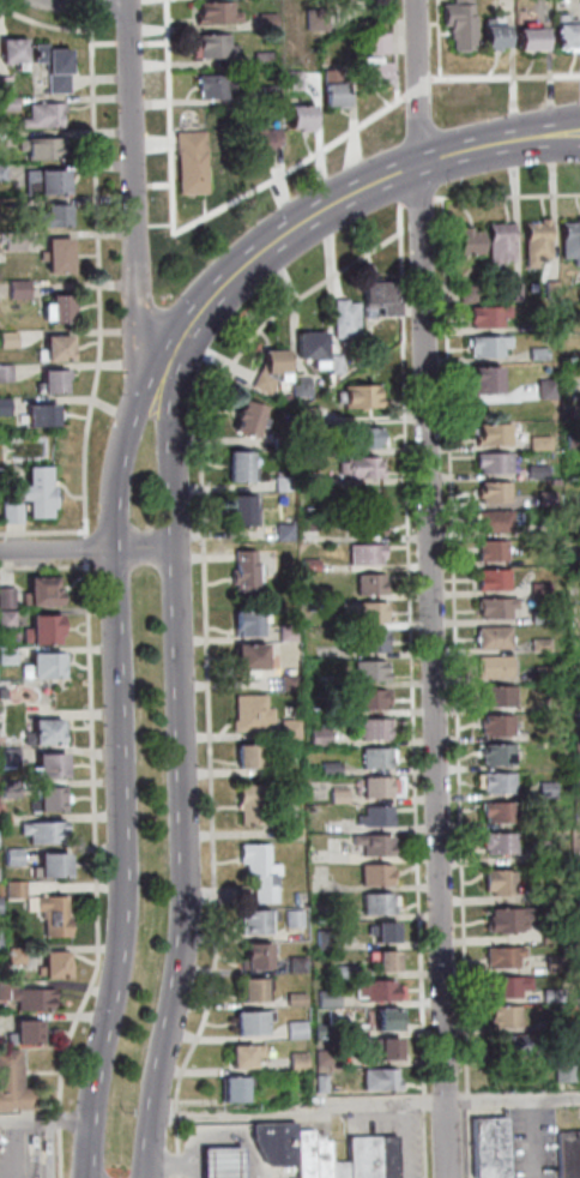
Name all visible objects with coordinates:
road: (91, 1)
building: (342, 2)
road: (87, 6)
building: (213, 13)
building: (265, 19)
building: (315, 19)
road: (42, 24)
building: (457, 24)
building: (490, 35)
building: (563, 37)
building: (527, 40)
road: (152, 42)
road: (101, 43)
road: (126, 43)
building: (375, 43)
building: (211, 47)
building: (11, 53)
building: (259, 60)
road: (436, 65)
building: (52, 67)
building: (369, 72)
road: (395, 72)
road: (503, 77)
building: (290, 80)
building: (4, 84)
building: (211, 86)
road: (416, 90)
building: (267, 94)
building: (332, 95)
building: (7, 103)
building: (41, 115)
building: (297, 118)
road: (562, 133)
building: (256, 140)
road: (562, 142)
building: (38, 148)
road: (440, 157)
building: (188, 162)
building: (0, 172)
road: (397, 174)
building: (43, 182)
road: (132, 186)
road: (506, 196)
road: (416, 202)
road: (327, 208)
road: (399, 208)
building: (49, 217)
road: (413, 226)
road: (185, 227)
building: (12, 241)
building: (569, 241)
building: (464, 242)
building: (533, 242)
building: (496, 245)
building: (55, 256)
road: (95, 275)
building: (16, 288)
building: (579, 288)
building: (549, 289)
building: (510, 292)
building: (466, 294)
building: (377, 297)
building: (55, 309)
building: (485, 315)
building: (343, 319)
building: (537, 324)
building: (6, 339)
building: (485, 345)
building: (309, 349)
building: (53, 350)
building: (536, 354)
building: (573, 354)
building: (333, 363)
building: (270, 369)
building: (4, 373)
building: (483, 381)
building: (50, 383)
building: (298, 386)
building: (544, 387)
building: (357, 397)
building: (283, 398)
building: (2, 405)
building: (573, 411)
building: (307, 415)
building: (38, 416)
building: (246, 420)
building: (491, 433)
building: (363, 438)
building: (537, 441)
building: (572, 441)
building: (278, 443)
building: (304, 449)
building: (491, 463)
building: (236, 468)
building: (361, 468)
building: (578, 470)
building: (534, 471)
building: (306, 479)
building: (280, 483)
building: (493, 492)
building: (35, 493)
building: (578, 499)
building: (240, 510)
building: (10, 515)
building: (491, 522)
building: (362, 525)
building: (534, 530)
building: (578, 530)
road: (41, 531)
building: (280, 531)
road: (83, 548)
road: (86, 548)
building: (489, 551)
building: (363, 554)
building: (574, 554)
road: (42, 566)
building: (242, 572)
building: (490, 579)
building: (367, 584)
building: (538, 588)
road: (429, 589)
building: (40, 593)
building: (5, 597)
building: (493, 608)
building: (363, 612)
building: (543, 617)
building: (5, 618)
building: (244, 625)
building: (41, 630)
building: (284, 632)
building: (490, 638)
building: (370, 642)
building: (537, 645)
building: (6, 656)
road: (204, 657)
building: (247, 659)
building: (41, 666)
building: (491, 667)
building: (367, 672)
building: (540, 673)
building: (321, 681)
road: (453, 681)
building: (285, 683)
building: (579, 687)
road: (409, 690)
building: (1, 692)
building: (496, 697)
building: (367, 701)
building: (248, 714)
building: (495, 726)
building: (286, 729)
building: (370, 729)
building: (41, 734)
building: (315, 737)
building: (578, 751)
building: (496, 755)
building: (7, 757)
building: (248, 757)
building: (373, 758)
road: (117, 765)
building: (44, 767)
building: (327, 768)
road: (180, 771)
building: (495, 783)
building: (576, 785)
building: (376, 787)
building: (7, 788)
building: (544, 789)
building: (336, 795)
building: (47, 800)
road: (91, 806)
building: (248, 806)
building: (291, 809)
building: (497, 812)
building: (373, 817)
building: (579, 818)
building: (288, 829)
building: (41, 831)
building: (496, 843)
building: (371, 845)
building: (540, 852)
building: (11, 857)
building: (49, 867)
building: (255, 871)
building: (373, 875)
building: (495, 882)
building: (12, 889)
building: (531, 895)
building: (375, 903)
building: (49, 914)
building: (290, 918)
building: (506, 920)
building: (252, 922)
building: (380, 932)
building: (548, 933)
building: (321, 939)
building: (13, 956)
building: (253, 957)
building: (501, 957)
building: (381, 961)
building: (552, 963)
building: (294, 964)
building: (53, 966)
building: (340, 972)
building: (506, 987)
building: (377, 991)
building: (250, 992)
building: (551, 996)
building: (325, 998)
building: (28, 999)
building: (294, 999)
building: (502, 1016)
building: (383, 1021)
building: (249, 1022)
building: (561, 1024)
building: (294, 1029)
building: (320, 1032)
building: (26, 1033)
building: (521, 1044)
building: (394, 1047)
building: (250, 1054)
building: (331, 1057)
building: (303, 1062)
building: (570, 1062)
building: (386, 1078)
building: (16, 1081)
building: (326, 1083)
building: (241, 1087)
road: (368, 1104)
road: (65, 1112)
road: (47, 1119)
road: (235, 1138)
road: (536, 1140)
building: (280, 1141)
building: (495, 1147)
road: (55, 1148)
road: (19, 1149)
road: (42, 1149)
parking lot: (14, 1153)
building: (310, 1153)
building: (572, 1154)
building: (327, 1156)
building: (377, 1156)
building: (226, 1161)
road: (185, 1164)
building: (345, 1170)
road: (90, 1177)
road: (92, 1177)
road: (151, 1177)
road: (151, 1177)

